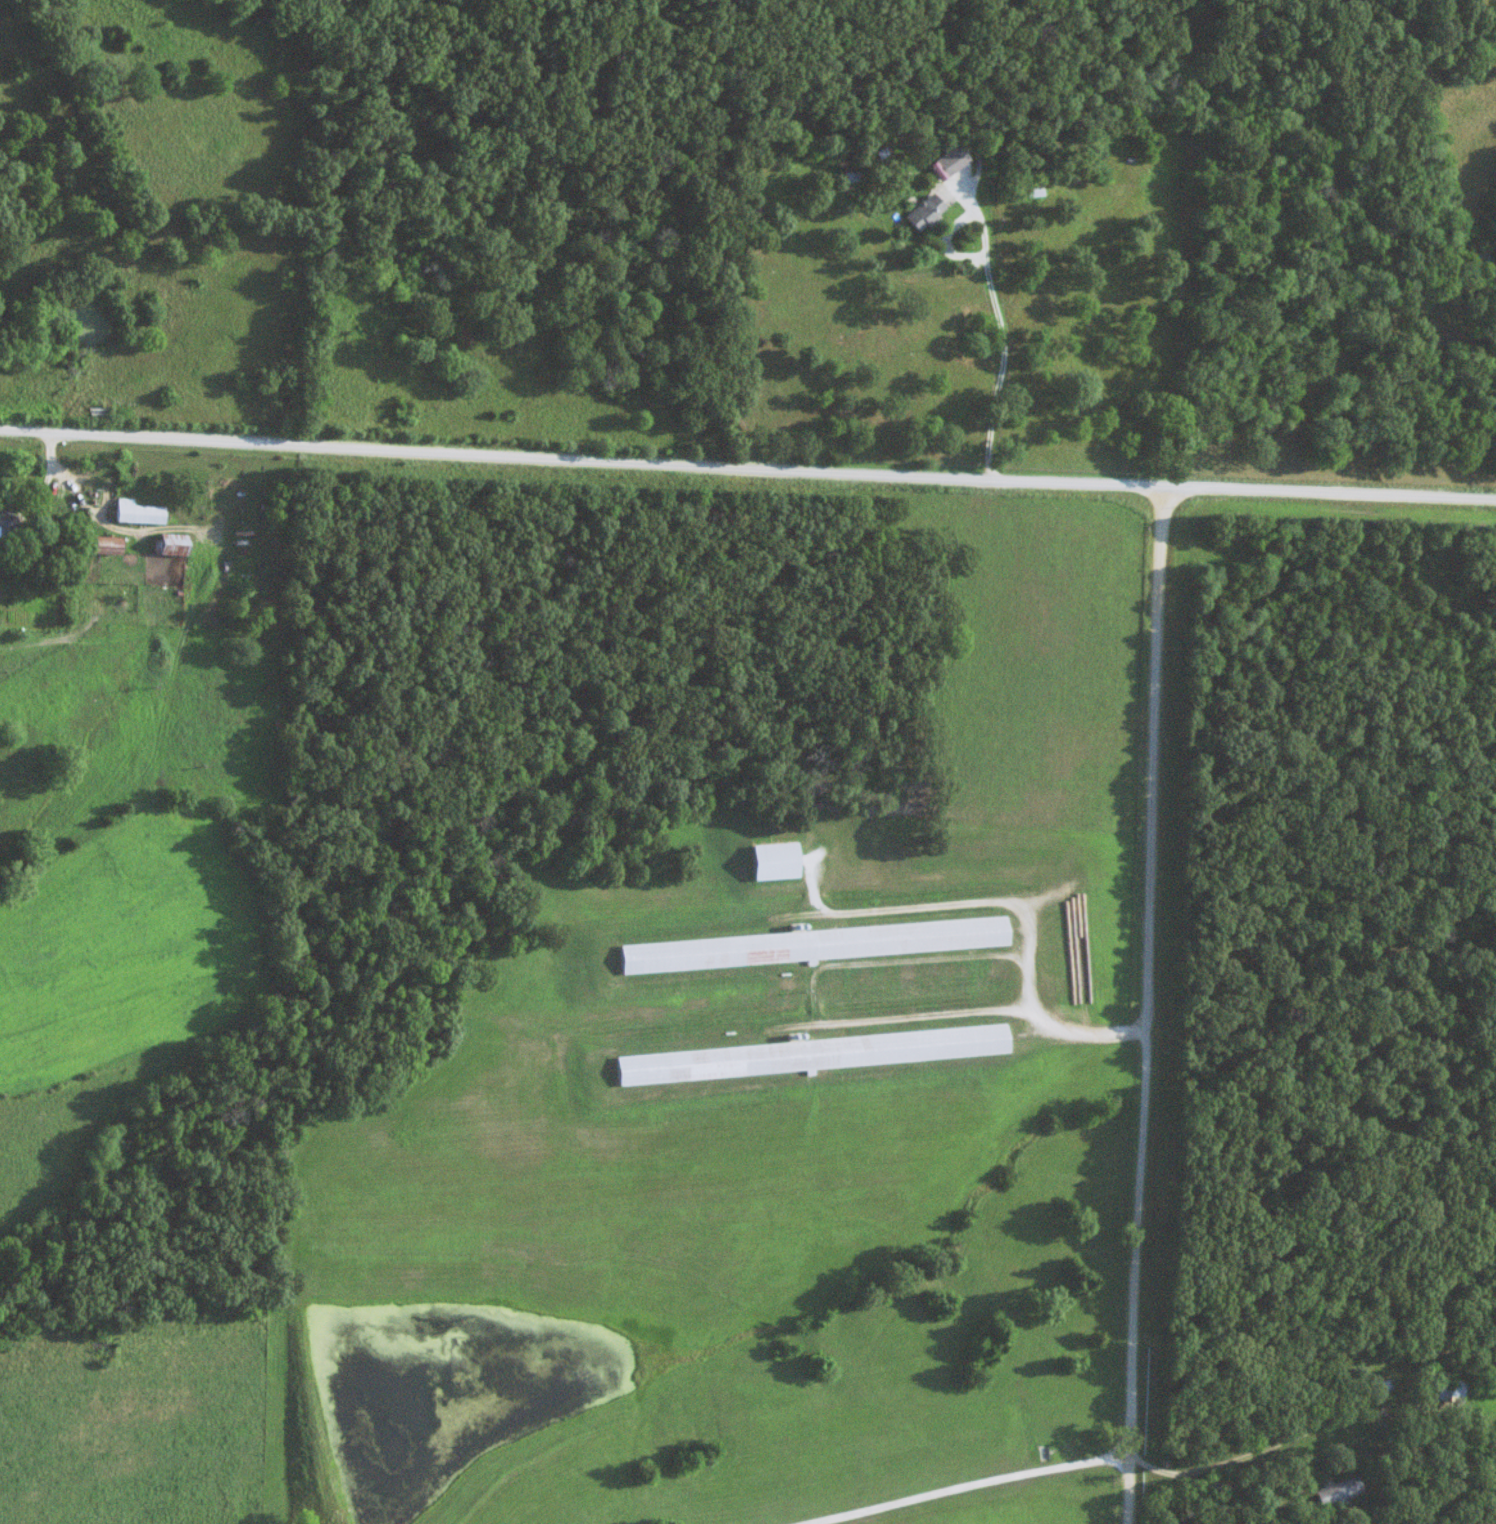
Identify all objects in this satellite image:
building: (919, 214)
road: (1456, 300)
road: (1004, 329)
road: (747, 467)
road: (75, 498)
building: (135, 513)
building: (99, 546)
building: (167, 546)
building: (52, 554)
building: (767, 864)
road: (1008, 901)
building: (809, 947)
road: (1148, 1004)
building: (806, 1055)
building: (1382, 1389)
building: (1454, 1392)
road: (1262, 1447)
road: (968, 1485)
building: (1334, 1492)
road: (1128, 1497)

